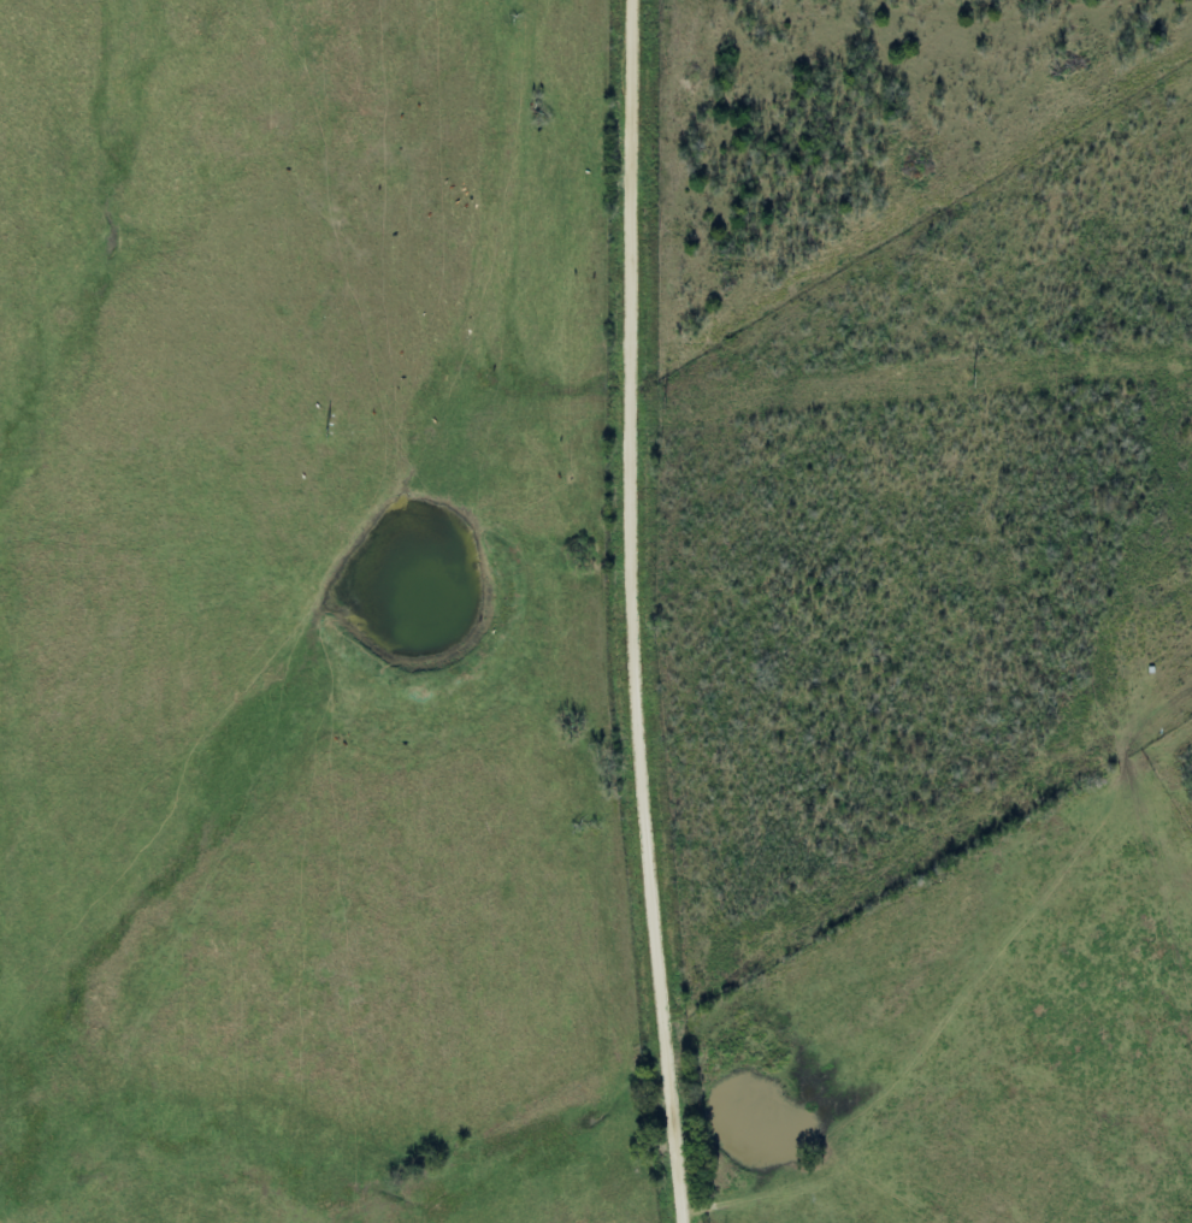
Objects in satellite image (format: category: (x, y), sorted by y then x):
power tower: (972, 378)
power tower: (665, 403)
power tower: (327, 432)
road: (639, 611)

